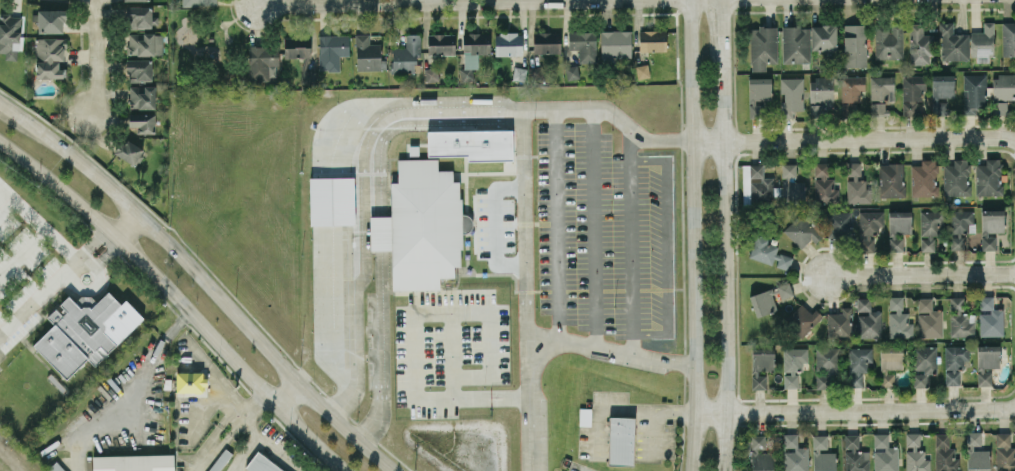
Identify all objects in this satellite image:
building: (135, 0)
road: (429, 0)
building: (199, 2)
road: (262, 2)
road: (373, 2)
building: (139, 17)
building: (51, 21)
road: (711, 22)
building: (10, 35)
building: (823, 37)
building: (1008, 39)
building: (652, 40)
building: (888, 41)
building: (547, 42)
building: (982, 42)
building: (145, 43)
building: (441, 43)
building: (508, 43)
building: (953, 43)
building: (583, 44)
building: (615, 44)
building: (796, 44)
building: (854, 45)
building: (920, 45)
building: (297, 46)
building: (475, 47)
building: (763, 47)
building: (332, 50)
road: (96, 52)
building: (367, 53)
building: (406, 55)
building: (50, 58)
building: (262, 62)
building: (139, 70)
building: (642, 71)
building: (572, 72)
building: (519, 73)
building: (431, 74)
building: (467, 74)
building: (309, 76)
building: (1003, 86)
building: (852, 88)
building: (912, 92)
building: (941, 92)
building: (820, 93)
building: (882, 93)
building: (974, 93)
building: (758, 94)
building: (791, 95)
building: (142, 97)
building: (1000, 107)
building: (142, 122)
road: (366, 126)
road: (522, 132)
road: (965, 134)
road: (804, 139)
building: (472, 143)
building: (130, 151)
road: (70, 156)
road: (338, 160)
building: (788, 169)
building: (956, 177)
building: (988, 177)
building: (925, 178)
building: (891, 179)
building: (824, 184)
building: (856, 184)
road: (58, 187)
building: (769, 187)
building: (332, 200)
road: (379, 216)
road: (40, 224)
building: (839, 224)
road: (125, 225)
building: (421, 225)
road: (556, 226)
building: (959, 226)
building: (991, 227)
road: (594, 228)
building: (869, 228)
building: (898, 228)
building: (930, 228)
building: (803, 229)
road: (694, 235)
road: (726, 235)
road: (92, 241)
road: (630, 241)
building: (768, 253)
road: (105, 254)
road: (921, 273)
road: (319, 289)
building: (784, 289)
road: (355, 292)
road: (42, 294)
building: (763, 302)
road: (470, 312)
building: (990, 317)
building: (898, 318)
building: (960, 318)
building: (802, 319)
building: (867, 319)
building: (928, 319)
building: (839, 323)
building: (86, 331)
road: (260, 348)
road: (611, 351)
road: (229, 353)
building: (986, 362)
building: (954, 363)
building: (793, 364)
building: (890, 364)
building: (923, 364)
building: (761, 365)
building: (190, 381)
road: (129, 395)
road: (529, 405)
road: (251, 406)
road: (664, 407)
road: (1008, 407)
road: (848, 410)
building: (621, 440)
road: (220, 444)
road: (245, 452)
road: (282, 452)
building: (1004, 452)
building: (758, 453)
building: (915, 453)
building: (945, 453)
building: (976, 453)
building: (794, 454)
building: (855, 454)
building: (884, 454)
building: (133, 462)
building: (259, 464)
building: (56, 467)

